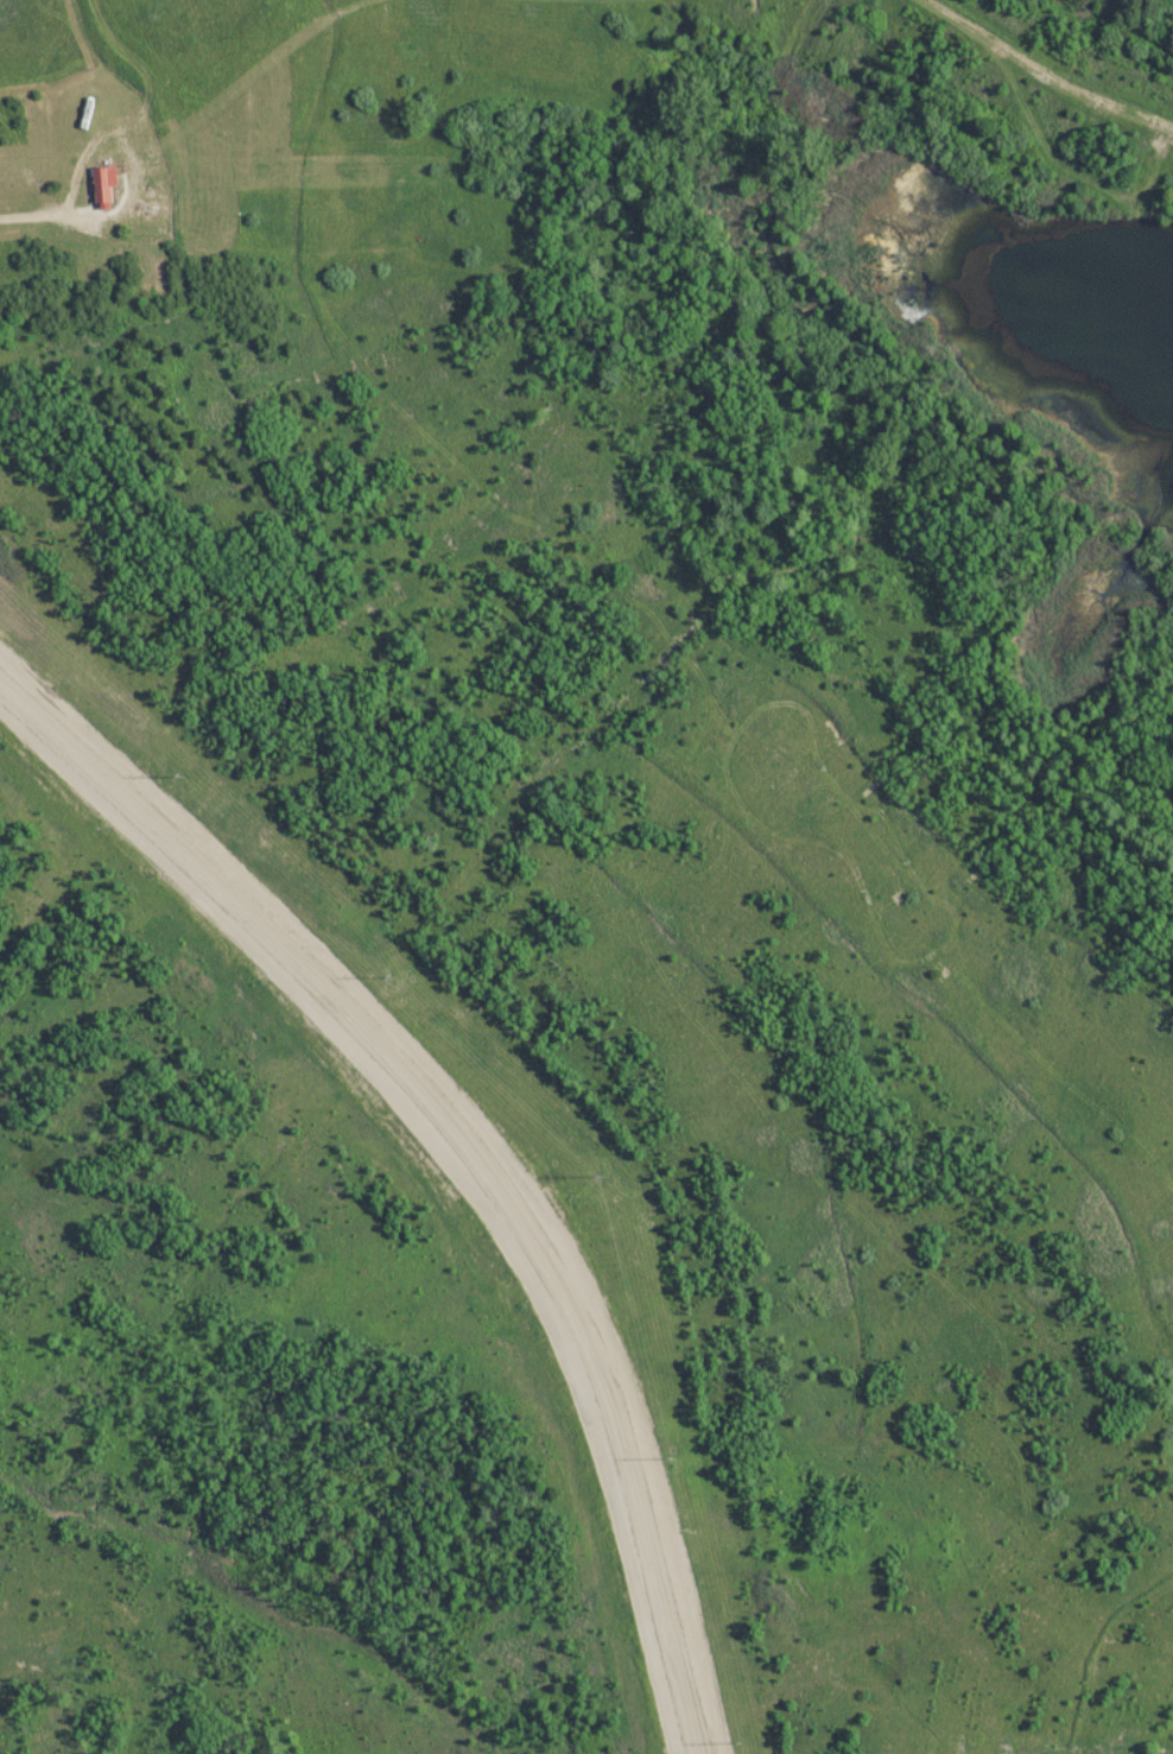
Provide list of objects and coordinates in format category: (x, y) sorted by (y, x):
building: (100, 198)
road: (46, 216)
road: (461, 1147)

